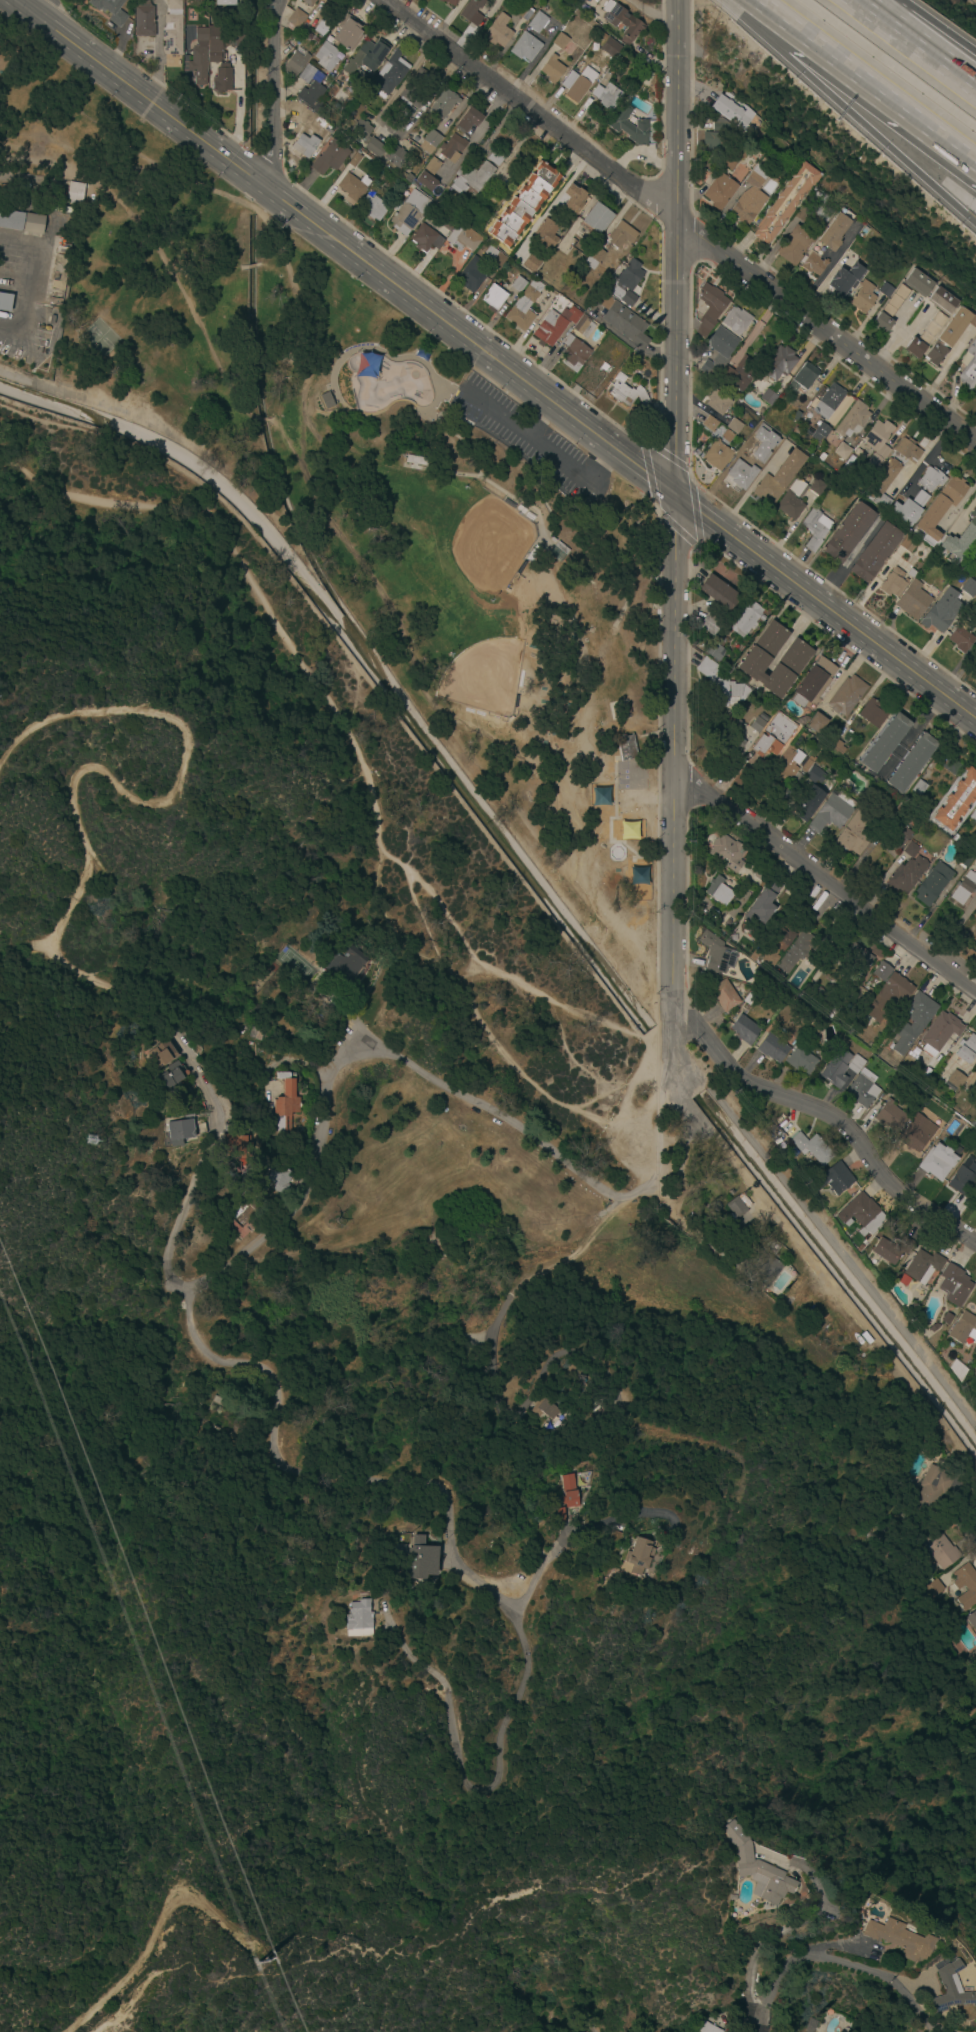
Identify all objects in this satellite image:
building: (224, 2)
building: (309, 2)
building: (448, 2)
road: (43, 8)
building: (470, 8)
building: (111, 10)
building: (522, 11)
road: (448, 17)
building: (144, 19)
building: (295, 20)
building: (622, 21)
building: (537, 22)
building: (323, 27)
road: (928, 28)
building: (172, 29)
building: (498, 31)
building: (348, 33)
building: (559, 41)
building: (215, 42)
road: (915, 44)
building: (525, 47)
building: (610, 47)
road: (156, 49)
building: (326, 56)
building: (366, 57)
building: (199, 58)
building: (295, 64)
building: (552, 69)
building: (391, 73)
building: (222, 81)
road: (864, 82)
building: (578, 84)
building: (311, 87)
building: (415, 90)
road: (274, 95)
building: (607, 97)
building: (443, 104)
road: (860, 110)
building: (732, 111)
building: (467, 119)
building: (319, 126)
building: (633, 127)
building: (362, 130)
building: (717, 135)
road: (475, 136)
building: (431, 141)
building: (304, 144)
building: (375, 148)
building: (451, 148)
building: (396, 156)
building: (496, 157)
building: (330, 158)
building: (355, 160)
building: (729, 162)
building: (428, 175)
building: (472, 178)
building: (770, 186)
building: (353, 188)
building: (719, 192)
building: (75, 193)
building: (453, 197)
building: (573, 198)
building: (749, 198)
building: (785, 202)
building: (524, 205)
building: (372, 207)
building: (822, 210)
building: (408, 212)
building: (596, 218)
building: (11, 219)
building: (442, 220)
road: (682, 222)
building: (34, 223)
building: (546, 233)
building: (620, 235)
building: (464, 237)
building: (426, 238)
road: (780, 238)
building: (826, 242)
building: (794, 245)
road: (679, 248)
road: (158, 253)
building: (495, 257)
building: (593, 258)
building: (531, 262)
road: (249, 266)
road: (826, 267)
building: (471, 275)
building: (843, 281)
building: (919, 282)
road: (22, 283)
building: (626, 283)
building: (518, 284)
building: (886, 290)
building: (493, 297)
building: (863, 298)
building: (942, 300)
building: (5, 302)
building: (524, 306)
building: (710, 309)
building: (890, 309)
road: (900, 313)
building: (623, 321)
building: (736, 321)
building: (973, 322)
building: (554, 325)
building: (583, 326)
building: (954, 327)
road: (896, 334)
building: (926, 335)
park: (101, 341)
road: (630, 345)
building: (719, 351)
building: (574, 354)
building: (936, 354)
road: (497, 360)
building: (779, 363)
building: (604, 367)
building: (969, 369)
building: (738, 376)
building: (802, 377)
park: (384, 381)
building: (626, 392)
building: (768, 397)
building: (325, 399)
building: (828, 401)
building: (718, 402)
building: (840, 410)
building: (797, 416)
road: (536, 417)
road: (260, 419)
building: (852, 420)
building: (710, 424)
building: (734, 426)
building: (820, 433)
building: (759, 435)
building: (724, 437)
road: (530, 440)
parking lot: (529, 441)
building: (751, 443)
building: (877, 443)
building: (841, 451)
road: (666, 455)
building: (717, 456)
road: (928, 459)
building: (416, 461)
road: (599, 465)
building: (890, 473)
building: (741, 474)
road: (648, 476)
building: (780, 477)
building: (931, 479)
building: (817, 487)
traffic signals: (676, 496)
building: (792, 500)
building: (908, 509)
building: (940, 509)
road: (695, 511)
building: (816, 529)
road: (677, 530)
building: (848, 532)
building: (959, 541)
park: (354, 544)
building: (909, 544)
park: (490, 545)
building: (559, 551)
building: (875, 552)
building: (893, 583)
building: (968, 587)
building: (719, 593)
building: (913, 601)
building: (941, 610)
building: (761, 618)
building: (745, 619)
building: (710, 624)
building: (960, 641)
building: (713, 651)
building: (793, 660)
park: (486, 675)
building: (813, 682)
building: (721, 687)
building: (847, 696)
building: (623, 707)
building: (874, 714)
building: (817, 723)
building: (770, 733)
road: (912, 733)
building: (798, 739)
building: (731, 740)
building: (884, 743)
building: (837, 747)
building: (627, 748)
building: (911, 763)
building: (806, 764)
building: (949, 765)
building: (788, 766)
road: (94, 771)
building: (815, 775)
building: (919, 788)
road: (675, 789)
building: (599, 796)
building: (956, 801)
building: (808, 804)
building: (902, 812)
building: (832, 813)
building: (973, 816)
building: (857, 830)
building: (898, 835)
building: (911, 850)
building: (726, 853)
building: (963, 858)
building: (906, 875)
building: (761, 876)
road: (829, 881)
building: (933, 884)
building: (964, 888)
building: (719, 891)
building: (763, 907)
building: (781, 937)
building: (796, 952)
building: (717, 954)
building: (769, 958)
building: (859, 959)
building: (346, 962)
building: (882, 971)
building: (725, 996)
building: (818, 996)
building: (752, 997)
building: (888, 997)
road: (564, 1006)
building: (913, 1022)
building: (745, 1030)
building: (940, 1032)
building: (255, 1034)
building: (772, 1048)
building: (967, 1049)
building: (162, 1054)
road: (358, 1057)
building: (800, 1060)
building: (841, 1068)
building: (975, 1069)
building: (956, 1079)
building: (171, 1080)
building: (863, 1089)
building: (284, 1105)
building: (890, 1116)
road: (835, 1117)
building: (184, 1129)
building: (916, 1134)
building: (235, 1146)
power tower: (95, 1147)
building: (812, 1148)
road: (667, 1151)
building: (792, 1152)
building: (938, 1162)
building: (278, 1178)
building: (834, 1179)
building: (964, 1182)
building: (751, 1197)
building: (975, 1202)
building: (738, 1206)
building: (258, 1210)
building: (861, 1214)
road: (670, 1241)
building: (892, 1249)
building: (924, 1266)
building: (760, 1267)
building: (954, 1285)
building: (912, 1310)
road: (520, 1318)
building: (946, 1319)
building: (933, 1327)
building: (964, 1329)
building: (957, 1371)
building: (547, 1409)
building: (219, 1418)
building: (606, 1447)
road: (335, 1481)
building: (930, 1492)
building: (566, 1497)
road: (585, 1527)
building: (939, 1548)
building: (634, 1558)
building: (420, 1559)
building: (966, 1586)
building: (933, 1587)
building: (956, 1594)
building: (358, 1619)
building: (972, 1620)
building: (971, 1659)
road: (418, 1665)
road: (380, 1819)
building: (758, 1869)
building: (733, 1897)
road: (794, 1923)
road: (158, 1929)
building: (897, 1939)
road: (827, 1957)
power tower: (259, 1958)
building: (948, 1989)
building: (812, 2025)
building: (706, 2027)
road: (596, 2030)

